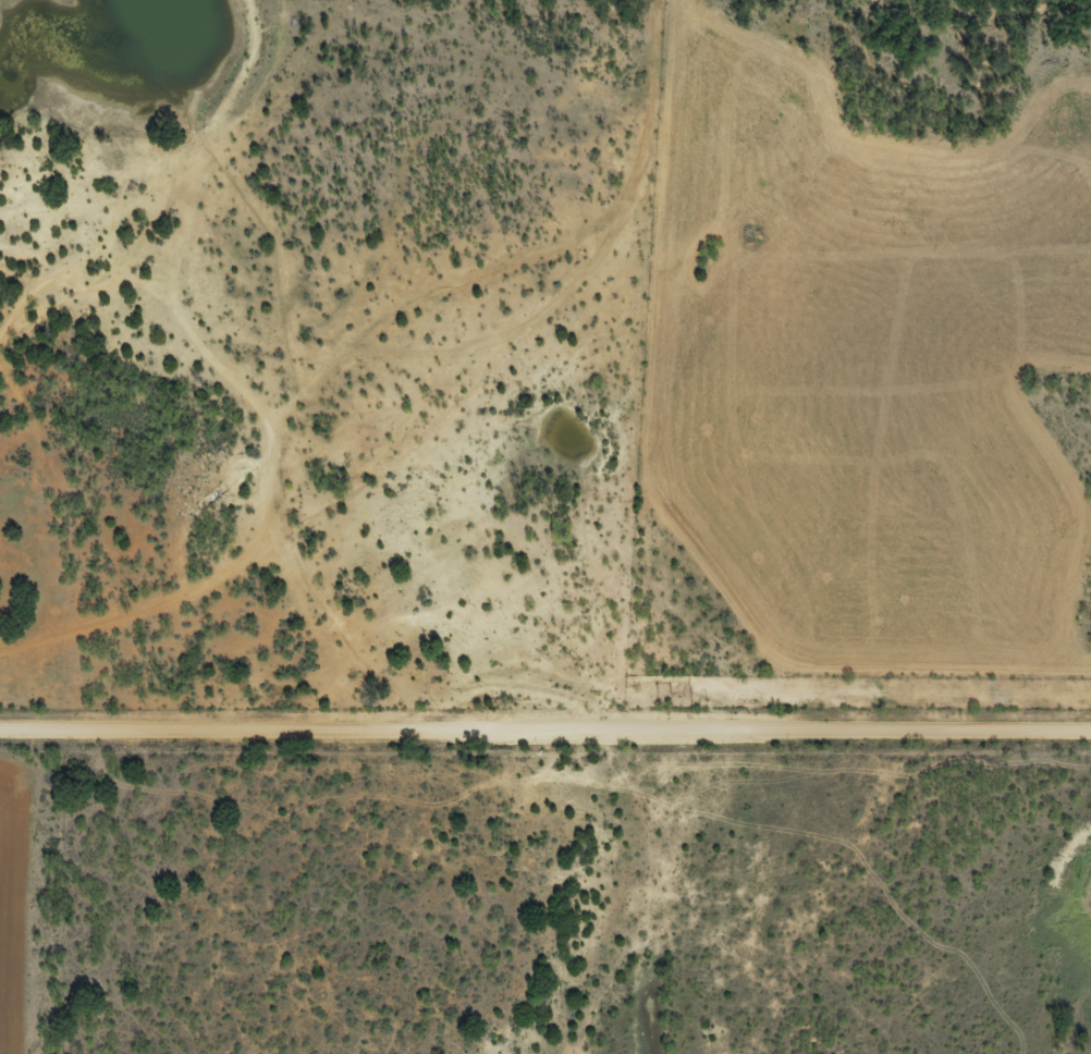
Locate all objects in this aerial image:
road: (544, 749)

